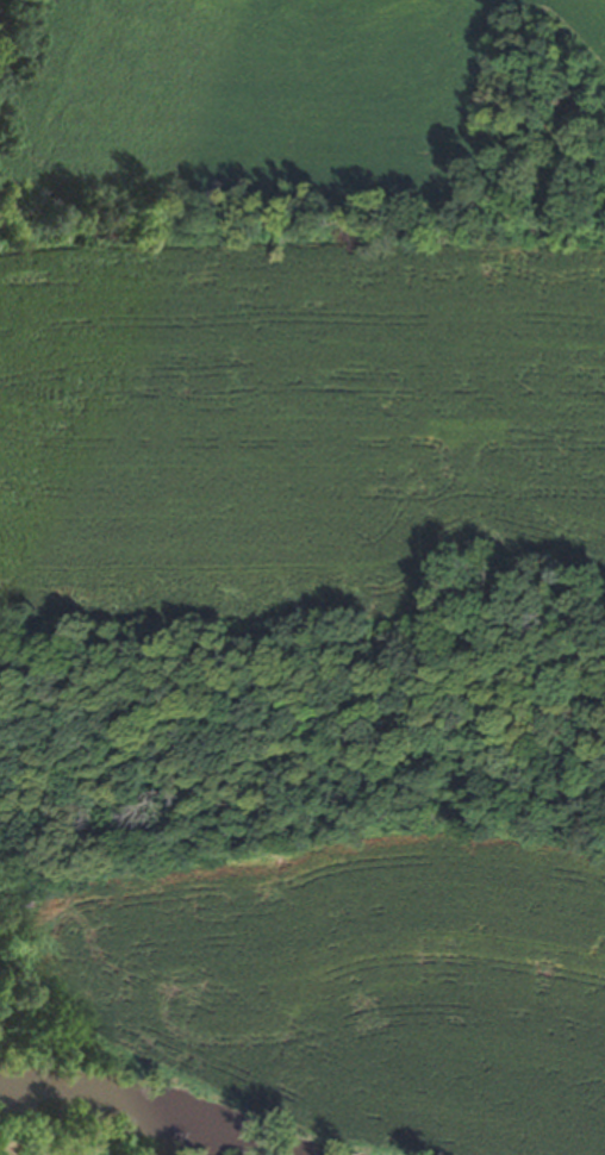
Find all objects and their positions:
river: (95, 1130)

